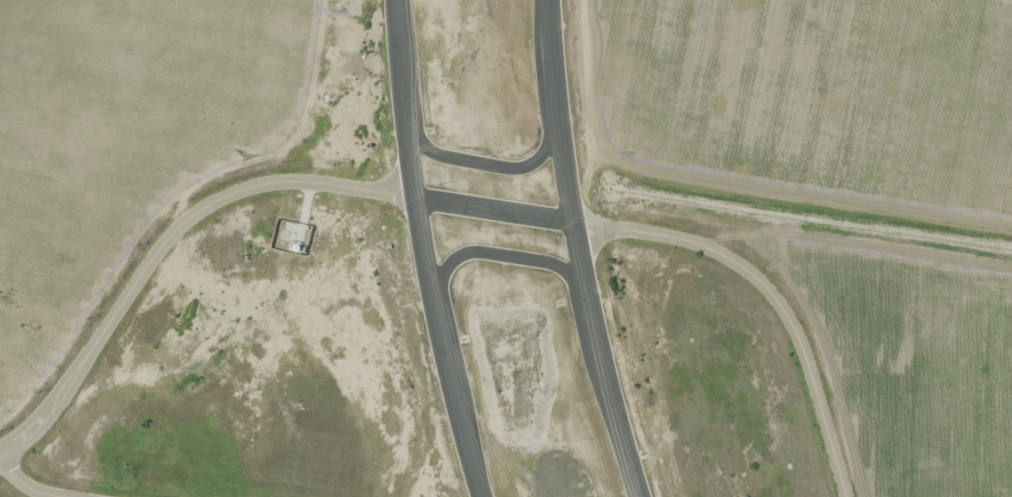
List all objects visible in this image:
road: (403, 98)
road: (485, 162)
road: (227, 194)
road: (579, 251)
road: (499, 254)
road: (772, 294)
road: (444, 347)
road: (25, 484)

